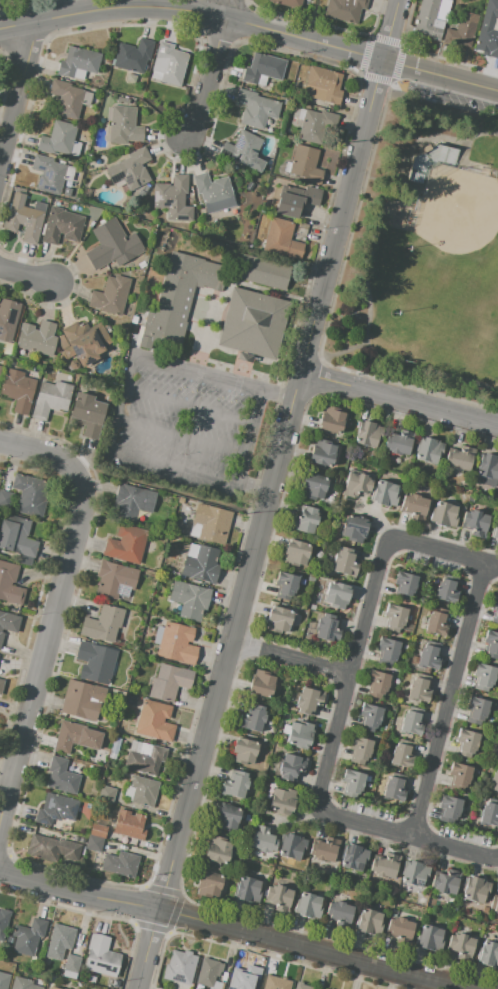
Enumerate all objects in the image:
building: (286, 3)
building: (344, 10)
building: (490, 14)
building: (427, 22)
road: (251, 24)
building: (462, 30)
building: (486, 43)
building: (133, 55)
building: (78, 62)
building: (169, 63)
road: (211, 68)
building: (263, 69)
building: (301, 73)
building: (325, 83)
road: (16, 87)
building: (65, 99)
road: (405, 107)
building: (256, 109)
building: (300, 114)
building: (123, 125)
building: (315, 126)
building: (59, 140)
building: (245, 150)
building: (445, 154)
road: (468, 163)
building: (305, 164)
road: (402, 164)
building: (130, 170)
building: (48, 175)
building: (214, 192)
building: (173, 199)
building: (296, 200)
building: (24, 219)
building: (62, 226)
park: (443, 238)
building: (282, 239)
building: (112, 245)
park: (424, 247)
road: (344, 252)
building: (265, 273)
road: (25, 275)
building: (111, 295)
building: (177, 297)
building: (186, 299)
building: (7, 319)
building: (253, 323)
building: (37, 338)
road: (366, 341)
building: (84, 342)
road: (341, 349)
park: (481, 355)
building: (244, 356)
building: (0, 367)
road: (129, 374)
road: (198, 374)
building: (18, 390)
road: (398, 397)
building: (51, 399)
road: (120, 407)
road: (189, 408)
building: (88, 414)
building: (331, 420)
parking lot: (183, 423)
building: (368, 433)
road: (112, 436)
road: (250, 438)
road: (180, 439)
building: (400, 442)
building: (428, 449)
building: (322, 453)
building: (460, 459)
building: (488, 466)
road: (173, 467)
building: (356, 484)
building: (314, 486)
road: (170, 492)
building: (383, 493)
building: (29, 494)
road: (267, 494)
building: (6, 499)
building: (179, 499)
building: (132, 502)
building: (413, 507)
building: (443, 515)
building: (305, 520)
building: (475, 522)
building: (210, 524)
building: (353, 529)
building: (494, 532)
building: (18, 539)
building: (125, 544)
road: (445, 550)
building: (295, 553)
building: (344, 562)
building: (201, 563)
building: (311, 579)
building: (115, 580)
building: (9, 583)
building: (285, 585)
building: (403, 586)
building: (444, 592)
building: (336, 595)
building: (189, 599)
road: (57, 604)
building: (312, 607)
building: (494, 610)
building: (394, 617)
building: (279, 619)
building: (8, 623)
building: (103, 624)
building: (436, 624)
building: (407, 627)
building: (327, 628)
building: (177, 644)
building: (491, 644)
building: (387, 650)
building: (145, 652)
building: (132, 656)
road: (290, 657)
building: (428, 658)
building: (95, 662)
road: (352, 673)
building: (483, 676)
building: (169, 682)
building: (1, 684)
building: (261, 684)
building: (277, 685)
building: (376, 685)
building: (419, 689)
road: (449, 699)
building: (81, 700)
building: (308, 701)
building: (475, 709)
building: (370, 717)
building: (253, 718)
building: (154, 721)
building: (411, 723)
building: (299, 734)
building: (76, 736)
building: (467, 743)
building: (360, 750)
building: (244, 751)
building: (497, 751)
building: (402, 754)
building: (146, 761)
building: (291, 767)
building: (62, 776)
building: (459, 776)
building: (494, 782)
building: (352, 784)
building: (236, 785)
building: (393, 788)
building: (143, 790)
building: (106, 795)
building: (282, 801)
building: (449, 808)
building: (56, 809)
building: (489, 814)
building: (226, 818)
building: (129, 826)
building: (98, 831)
road: (408, 835)
building: (263, 840)
building: (94, 844)
building: (292, 847)
building: (52, 849)
building: (217, 850)
building: (324, 850)
building: (353, 856)
building: (120, 863)
building: (384, 866)
building: (414, 873)
building: (446, 882)
building: (208, 884)
building: (475, 889)
building: (247, 890)
building: (279, 897)
building: (494, 904)
building: (308, 906)
building: (453, 908)
building: (485, 910)
building: (339, 914)
building: (6, 921)
building: (368, 921)
road: (227, 927)
building: (399, 928)
building: (28, 937)
building: (430, 938)
building: (59, 941)
building: (461, 945)
building: (488, 954)
building: (101, 957)
building: (72, 963)
building: (180, 967)
building: (208, 974)
building: (91, 979)
building: (4, 980)
building: (245, 980)
building: (115, 983)
building: (276, 983)
building: (22, 984)
building: (301, 986)
building: (60, 988)

